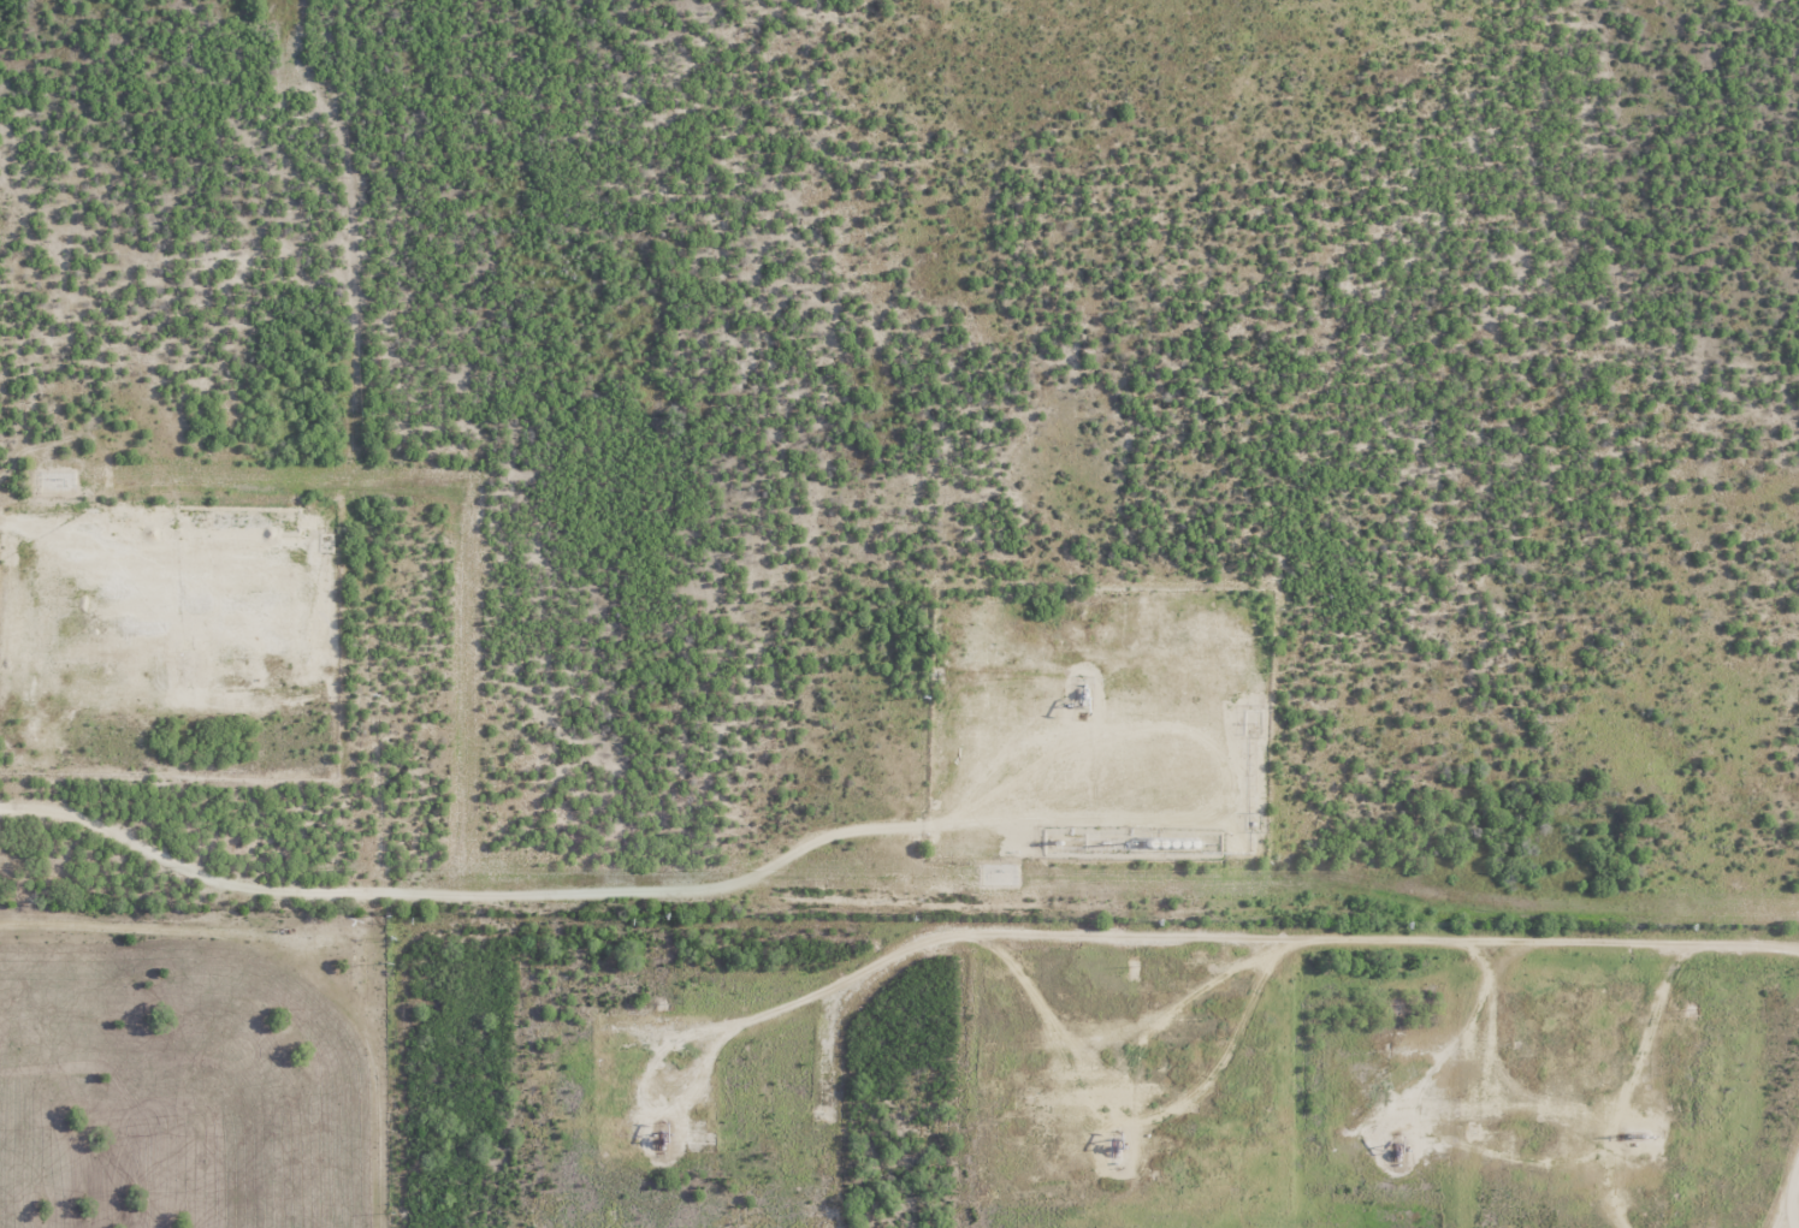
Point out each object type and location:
building: (355, 969)
road: (1789, 1206)

